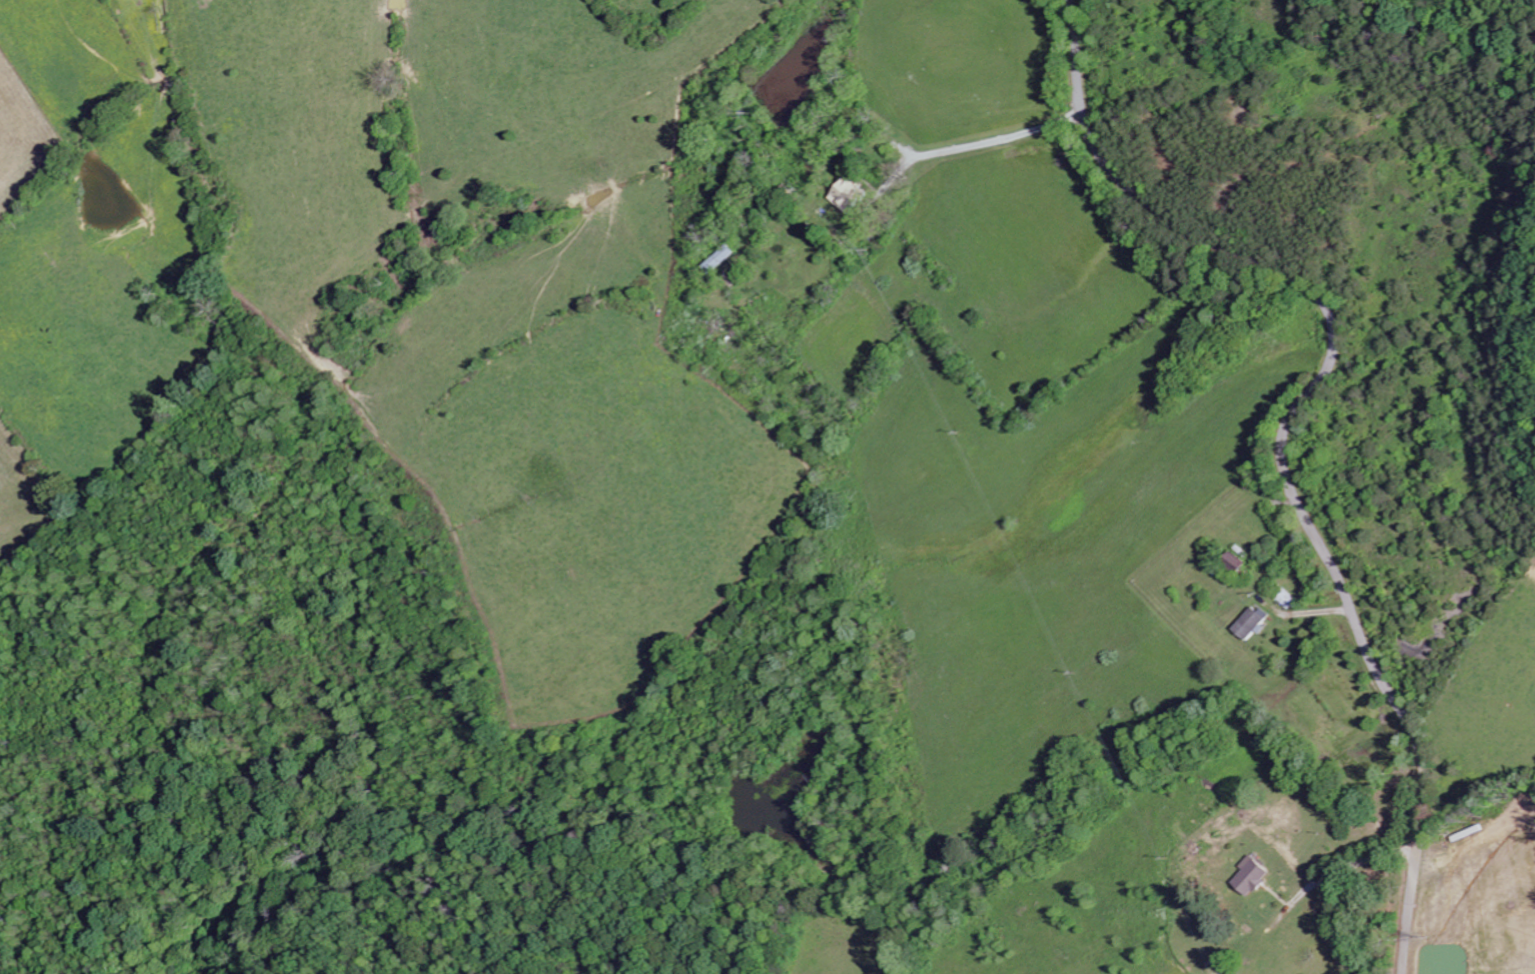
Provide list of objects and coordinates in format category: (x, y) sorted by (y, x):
building: (845, 191)
building: (718, 259)
road: (1286, 432)
building: (1234, 562)
building: (1249, 623)
building: (1250, 878)

